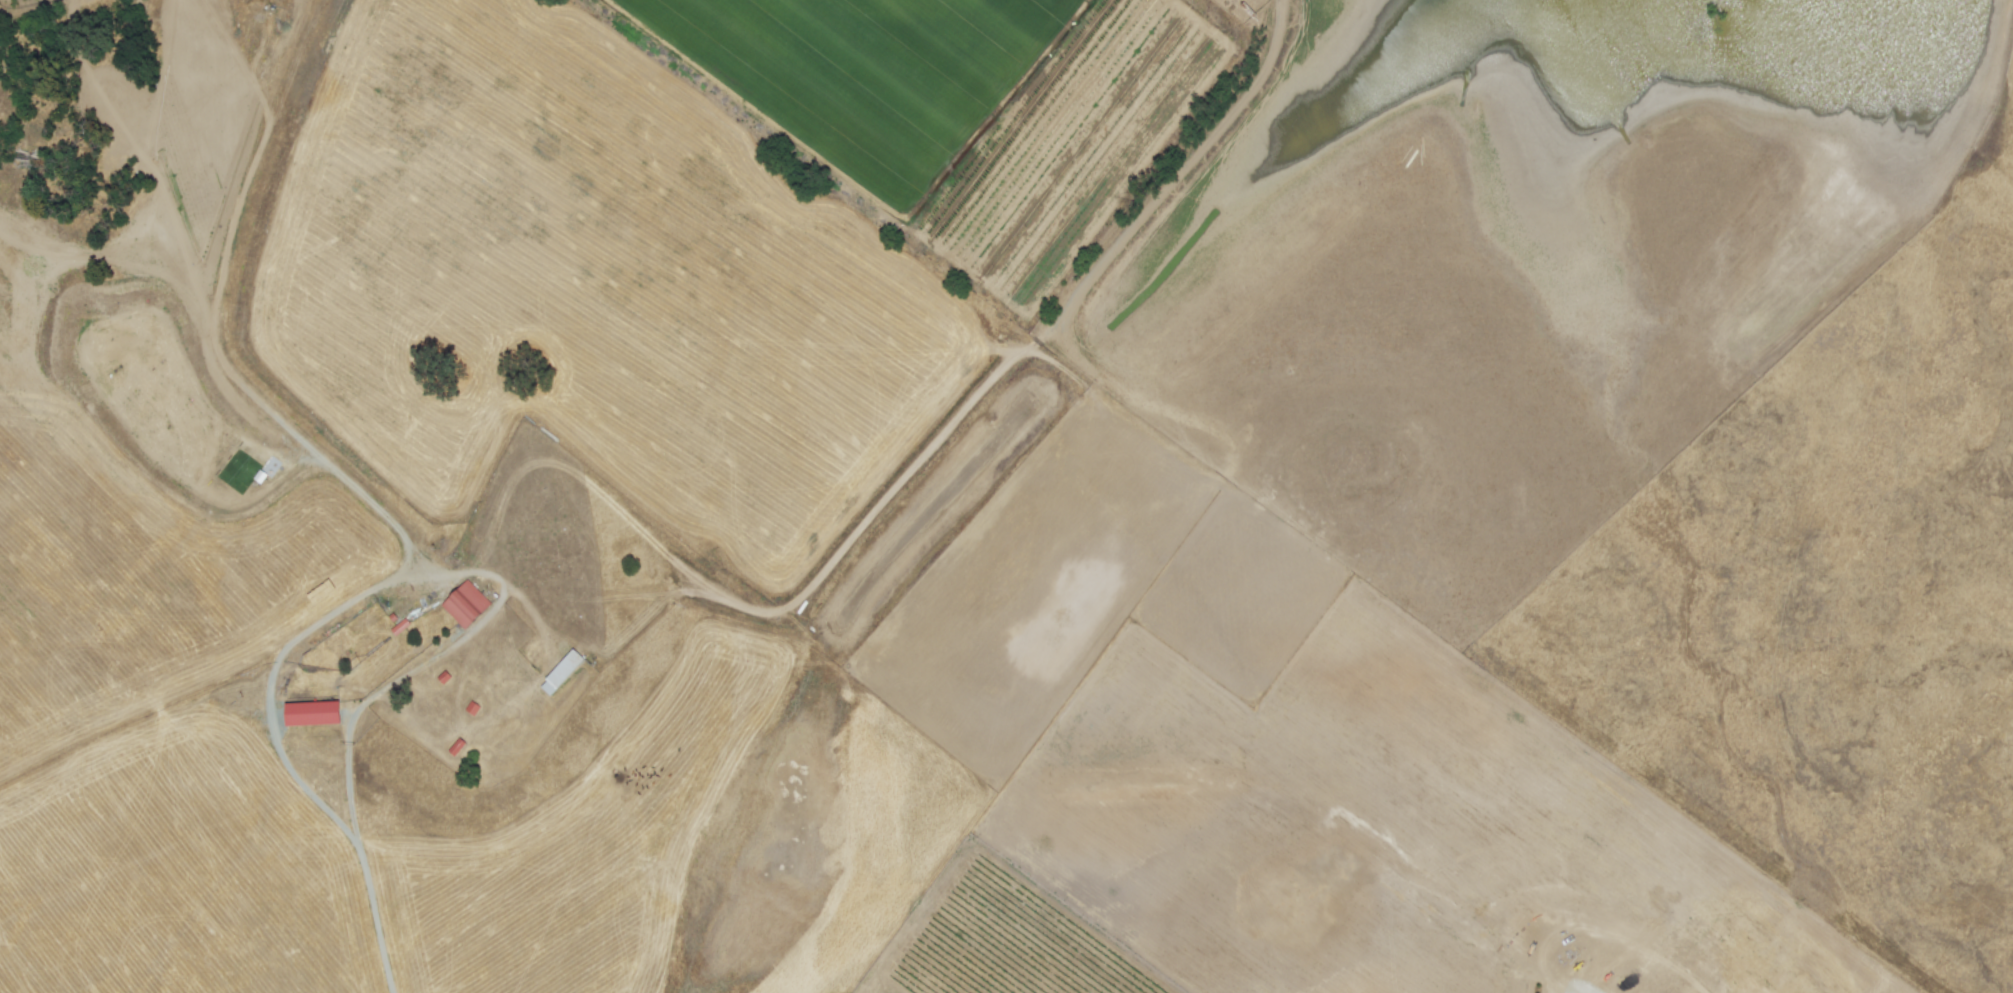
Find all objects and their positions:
building: (464, 604)
building: (560, 672)
building: (311, 714)

